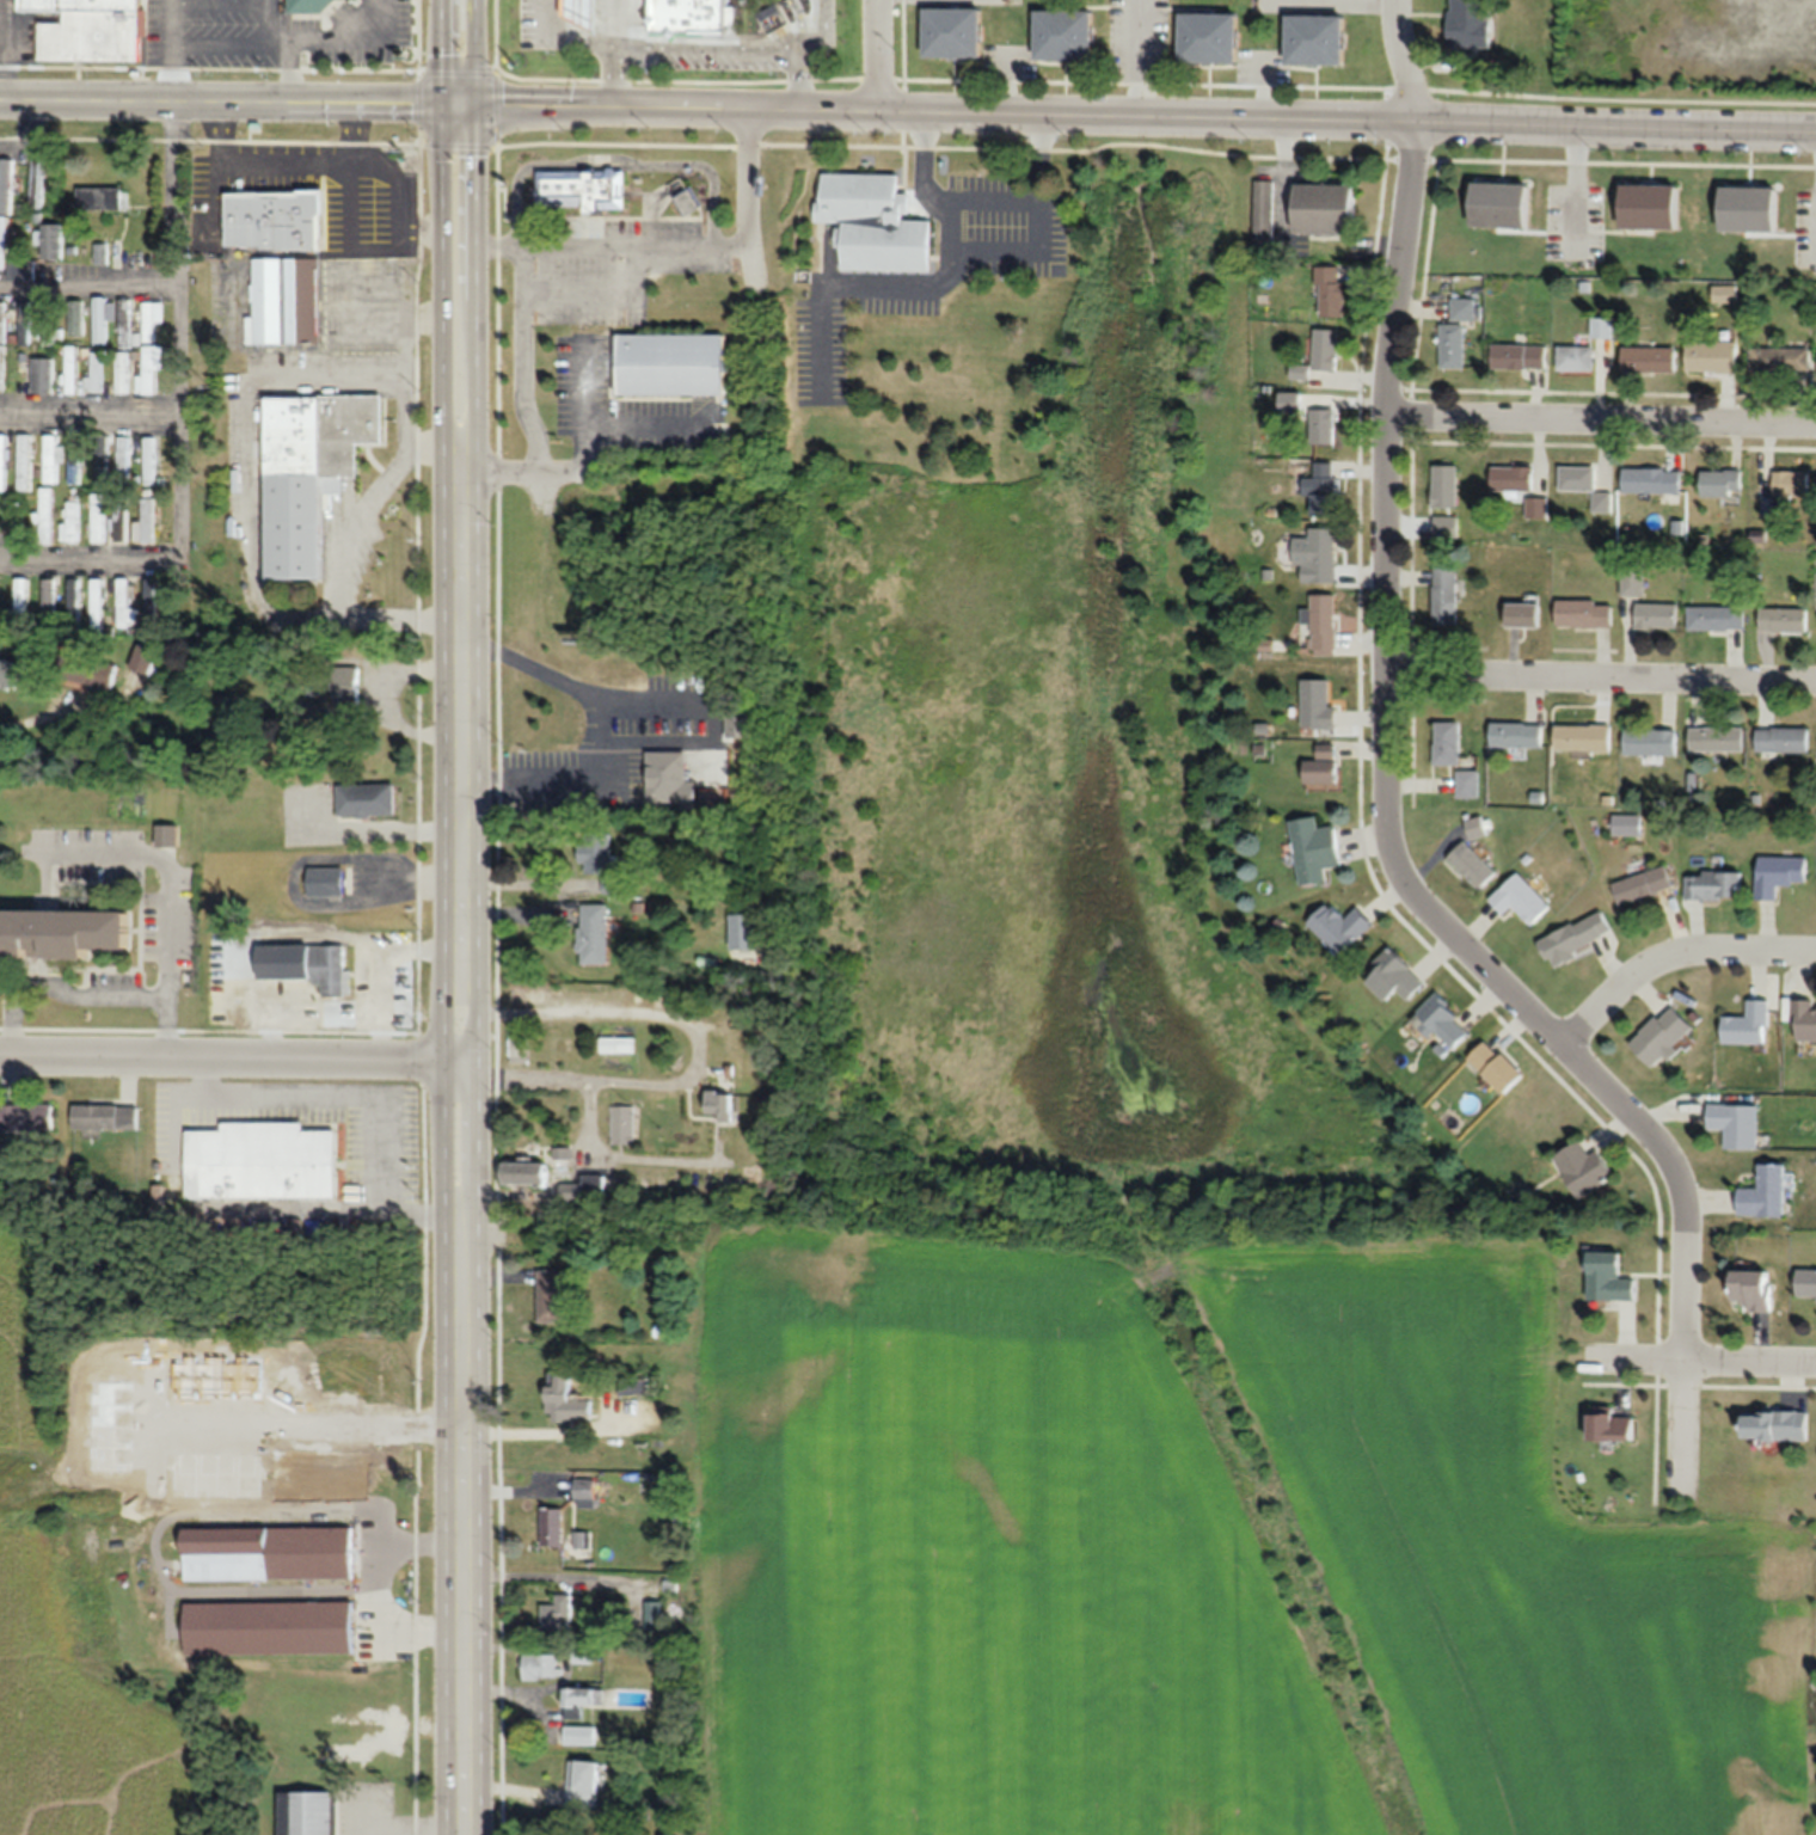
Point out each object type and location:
road: (1349, 1)
building: (320, 4)
building: (581, 13)
building: (771, 17)
building: (687, 18)
road: (271, 20)
building: (1470, 23)
road: (809, 25)
building: (92, 30)
building: (952, 32)
building: (1063, 33)
road: (560, 36)
building: (1209, 37)
building: (1317, 39)
road: (222, 41)
road: (346, 42)
road: (703, 47)
road: (174, 48)
road: (5, 49)
road: (454, 49)
road: (609, 50)
road: (879, 54)
road: (287, 69)
road: (796, 78)
road: (227, 97)
road: (626, 103)
road: (1306, 116)
road: (30, 137)
road: (286, 159)
road: (613, 165)
building: (6, 185)
building: (37, 186)
building: (579, 190)
building: (374, 194)
building: (100, 197)
building: (683, 197)
road: (743, 198)
building: (1499, 204)
building: (1649, 205)
building: (1324, 208)
building: (1748, 208)
building: (1263, 216)
building: (274, 220)
building: (872, 222)
building: (51, 241)
road: (601, 245)
building: (99, 251)
building: (24, 269)
road: (88, 282)
building: (1330, 290)
building: (283, 301)
building: (1462, 308)
building: (151, 319)
building: (1, 321)
building: (49, 323)
building: (25, 324)
building: (99, 325)
road: (178, 327)
building: (1601, 327)
building: (124, 331)
building: (1450, 345)
building: (1324, 349)
building: (1517, 356)
road: (520, 357)
building: (1575, 357)
building: (1711, 357)
building: (1648, 358)
building: (1780, 358)
building: (669, 363)
building: (70, 369)
building: (148, 369)
building: (121, 370)
building: (1293, 401)
road: (90, 412)
building: (1323, 421)
road: (1601, 428)
building: (122, 455)
building: (50, 460)
building: (74, 460)
building: (100, 461)
building: (23, 462)
building: (148, 466)
building: (2, 467)
road: (520, 467)
building: (308, 472)
building: (1511, 479)
building: (1650, 480)
building: (1720, 481)
building: (1583, 485)
road: (540, 486)
building: (1444, 486)
building: (1786, 490)
building: (1321, 491)
building: (1535, 508)
building: (45, 515)
building: (69, 521)
building: (97, 521)
building: (143, 522)
building: (118, 523)
building: (1444, 526)
building: (1315, 556)
road: (87, 558)
building: (1633, 582)
building: (1443, 596)
building: (19, 597)
building: (48, 597)
building: (73, 600)
building: (123, 603)
building: (148, 604)
building: (96, 606)
building: (1583, 613)
building: (1522, 614)
building: (1656, 615)
building: (1716, 618)
building: (1784, 620)
building: (1321, 622)
building: (142, 659)
building: (10, 674)
building: (87, 674)
building: (344, 681)
road: (1600, 687)
road: (375, 699)
building: (1317, 702)
road: (37, 716)
building: (220, 718)
road: (596, 720)
road: (713, 726)
building: (1515, 735)
building: (1582, 737)
building: (1716, 738)
building: (1781, 739)
building: (1650, 742)
building: (1446, 743)
building: (1319, 767)
building: (670, 779)
building: (1467, 783)
building: (364, 800)
road: (1384, 802)
building: (1627, 824)
building: (165, 835)
building: (1313, 848)
building: (593, 854)
building: (1471, 864)
road: (162, 869)
building: (1779, 873)
building: (324, 882)
building: (1713, 884)
building: (1642, 885)
building: (1520, 898)
building: (1339, 926)
building: (60, 933)
building: (590, 933)
building: (1576, 937)
road: (307, 938)
road: (1671, 961)
road: (454, 966)
building: (1393, 976)
building: (319, 977)
road: (88, 992)
building: (523, 994)
park: (1129, 994)
road: (380, 1001)
building: (1804, 1019)
building: (1441, 1020)
building: (1748, 1024)
building: (1662, 1035)
building: (516, 1041)
building: (615, 1043)
road: (694, 1049)
road: (227, 1054)
building: (1496, 1066)
road: (361, 1096)
building: (716, 1107)
building: (104, 1116)
building: (26, 1117)
building: (619, 1124)
building: (1735, 1124)
road: (618, 1155)
building: (262, 1161)
building: (1583, 1168)
building: (520, 1173)
building: (583, 1189)
building: (1763, 1192)
building: (1609, 1278)
building: (1805, 1282)
building: (1753, 1289)
building: (550, 1296)
road: (1705, 1358)
building: (113, 1365)
building: (564, 1400)
building: (220, 1424)
building: (1774, 1424)
building: (1609, 1425)
road: (548, 1430)
building: (338, 1455)
building: (103, 1481)
building: (582, 1492)
crop: (1547, 1526)
building: (550, 1527)
crop: (31, 1539)
crop: (946, 1552)
building: (270, 1553)
road: (379, 1581)
building: (651, 1610)
building: (554, 1614)
building: (270, 1627)
building: (579, 1653)
building: (538, 1667)
building: (579, 1700)
building: (577, 1735)
building: (581, 1784)
building: (311, 1813)

